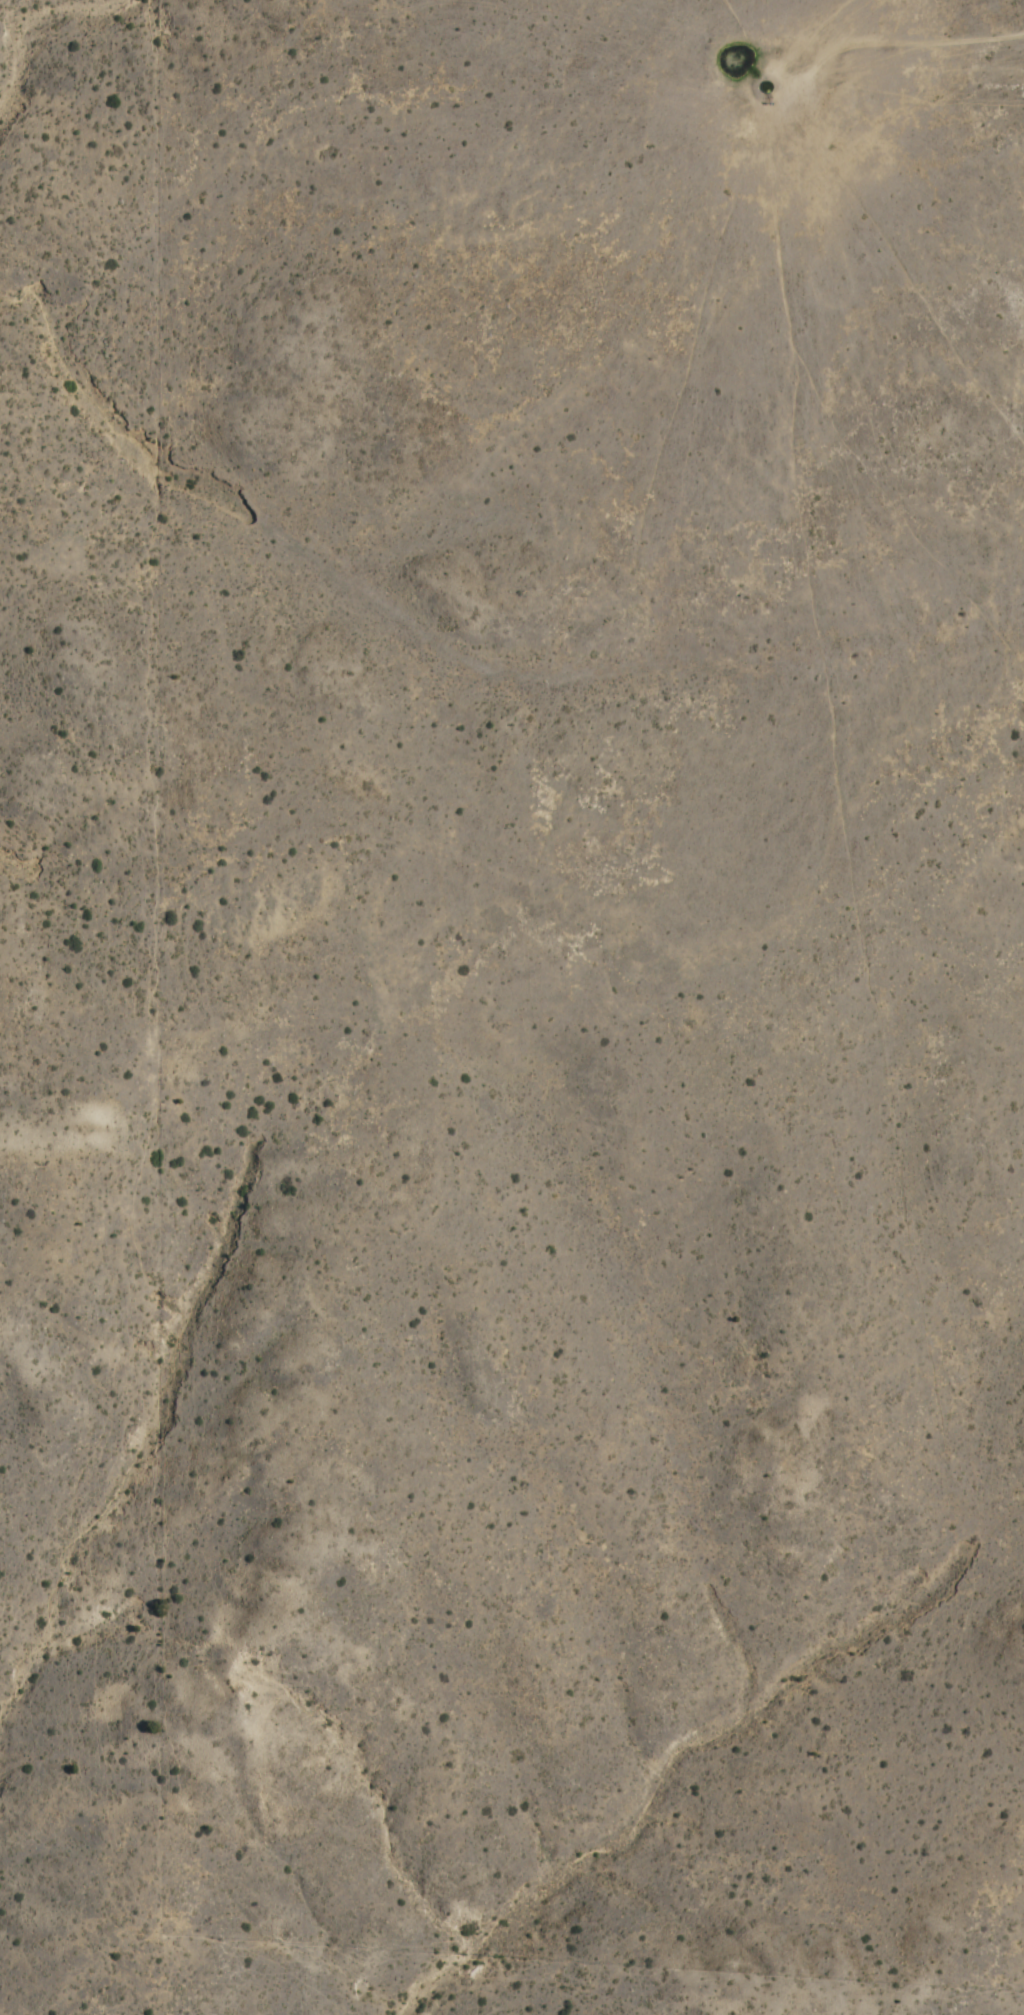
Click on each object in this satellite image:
road: (924, 26)

